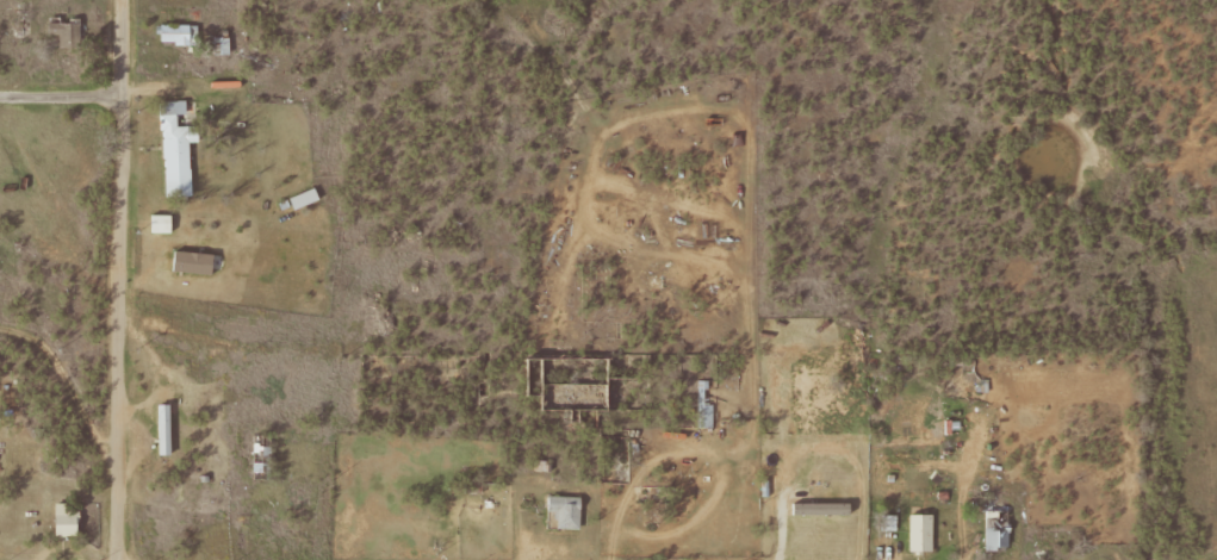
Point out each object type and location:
building: (62, 33)
building: (178, 33)
building: (219, 45)
road: (63, 88)
building: (175, 149)
building: (303, 198)
building: (160, 223)
building: (191, 261)
road: (126, 280)
building: (704, 403)
building: (161, 429)
building: (819, 508)
building: (563, 510)
building: (63, 519)
building: (919, 531)
road: (1211, 556)

